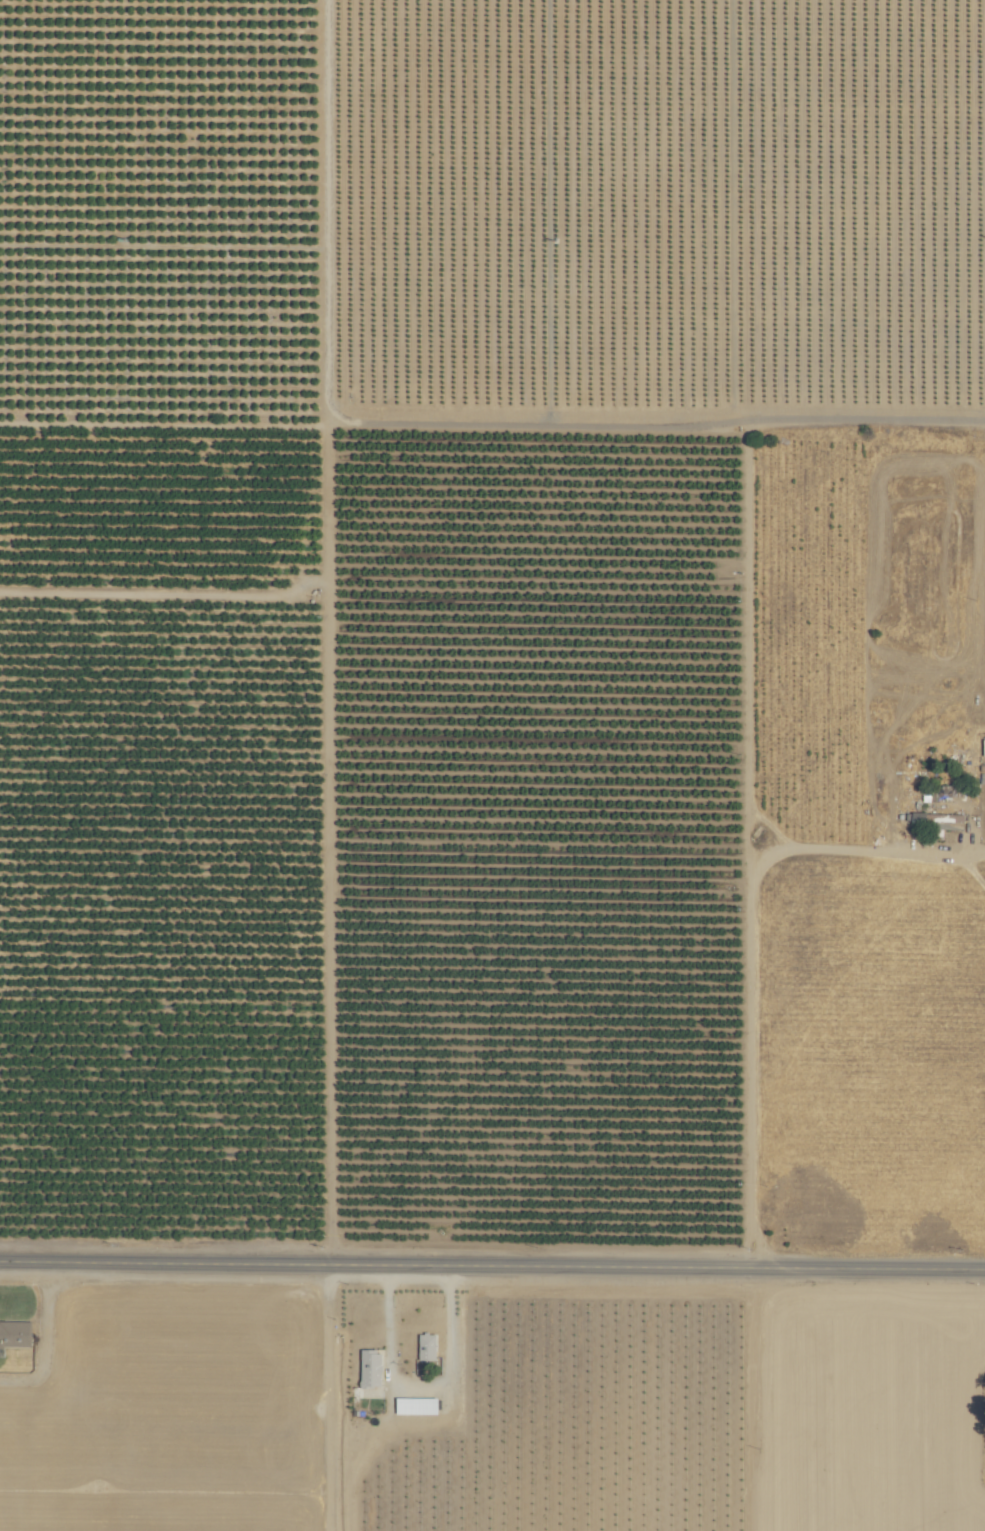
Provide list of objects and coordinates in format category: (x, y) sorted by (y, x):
crop: (492, 765)
building: (943, 792)
building: (938, 819)
road: (492, 1266)
building: (13, 1335)
building: (424, 1348)
building: (367, 1368)
road: (421, 1395)
building: (413, 1406)
crop: (546, 1407)

